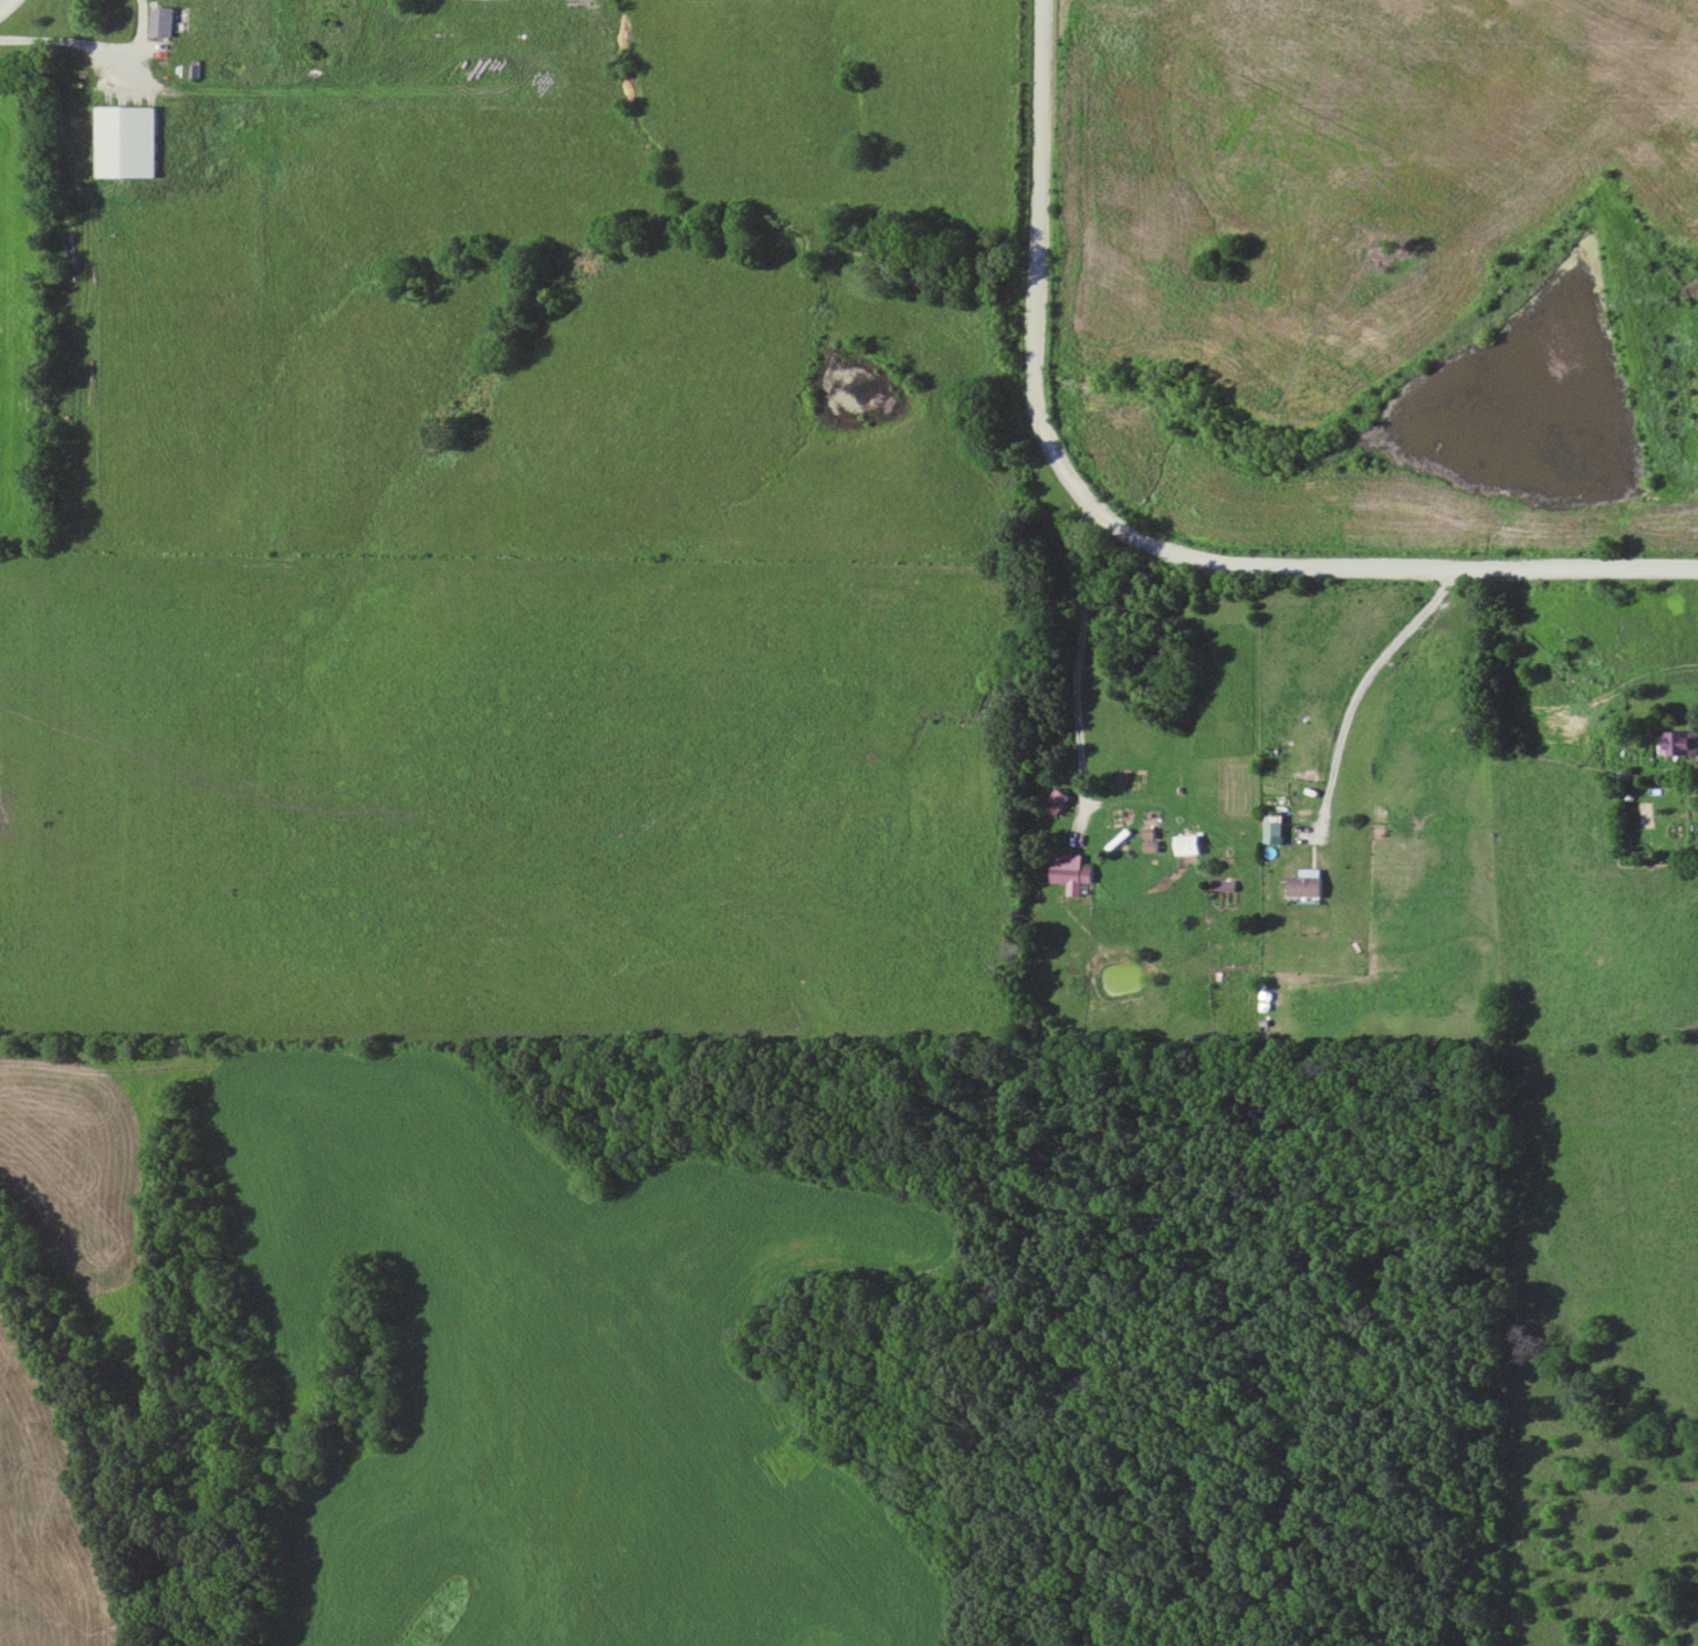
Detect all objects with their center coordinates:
road: (4, 3)
building: (298, 14)
building: (166, 20)
road: (94, 44)
road: (1132, 531)
road: (1076, 657)
road: (1360, 681)
building: (1681, 742)
building: (1059, 800)
building: (1276, 829)
building: (1152, 840)
building: (1188, 845)
building: (1072, 872)
building: (1308, 885)

